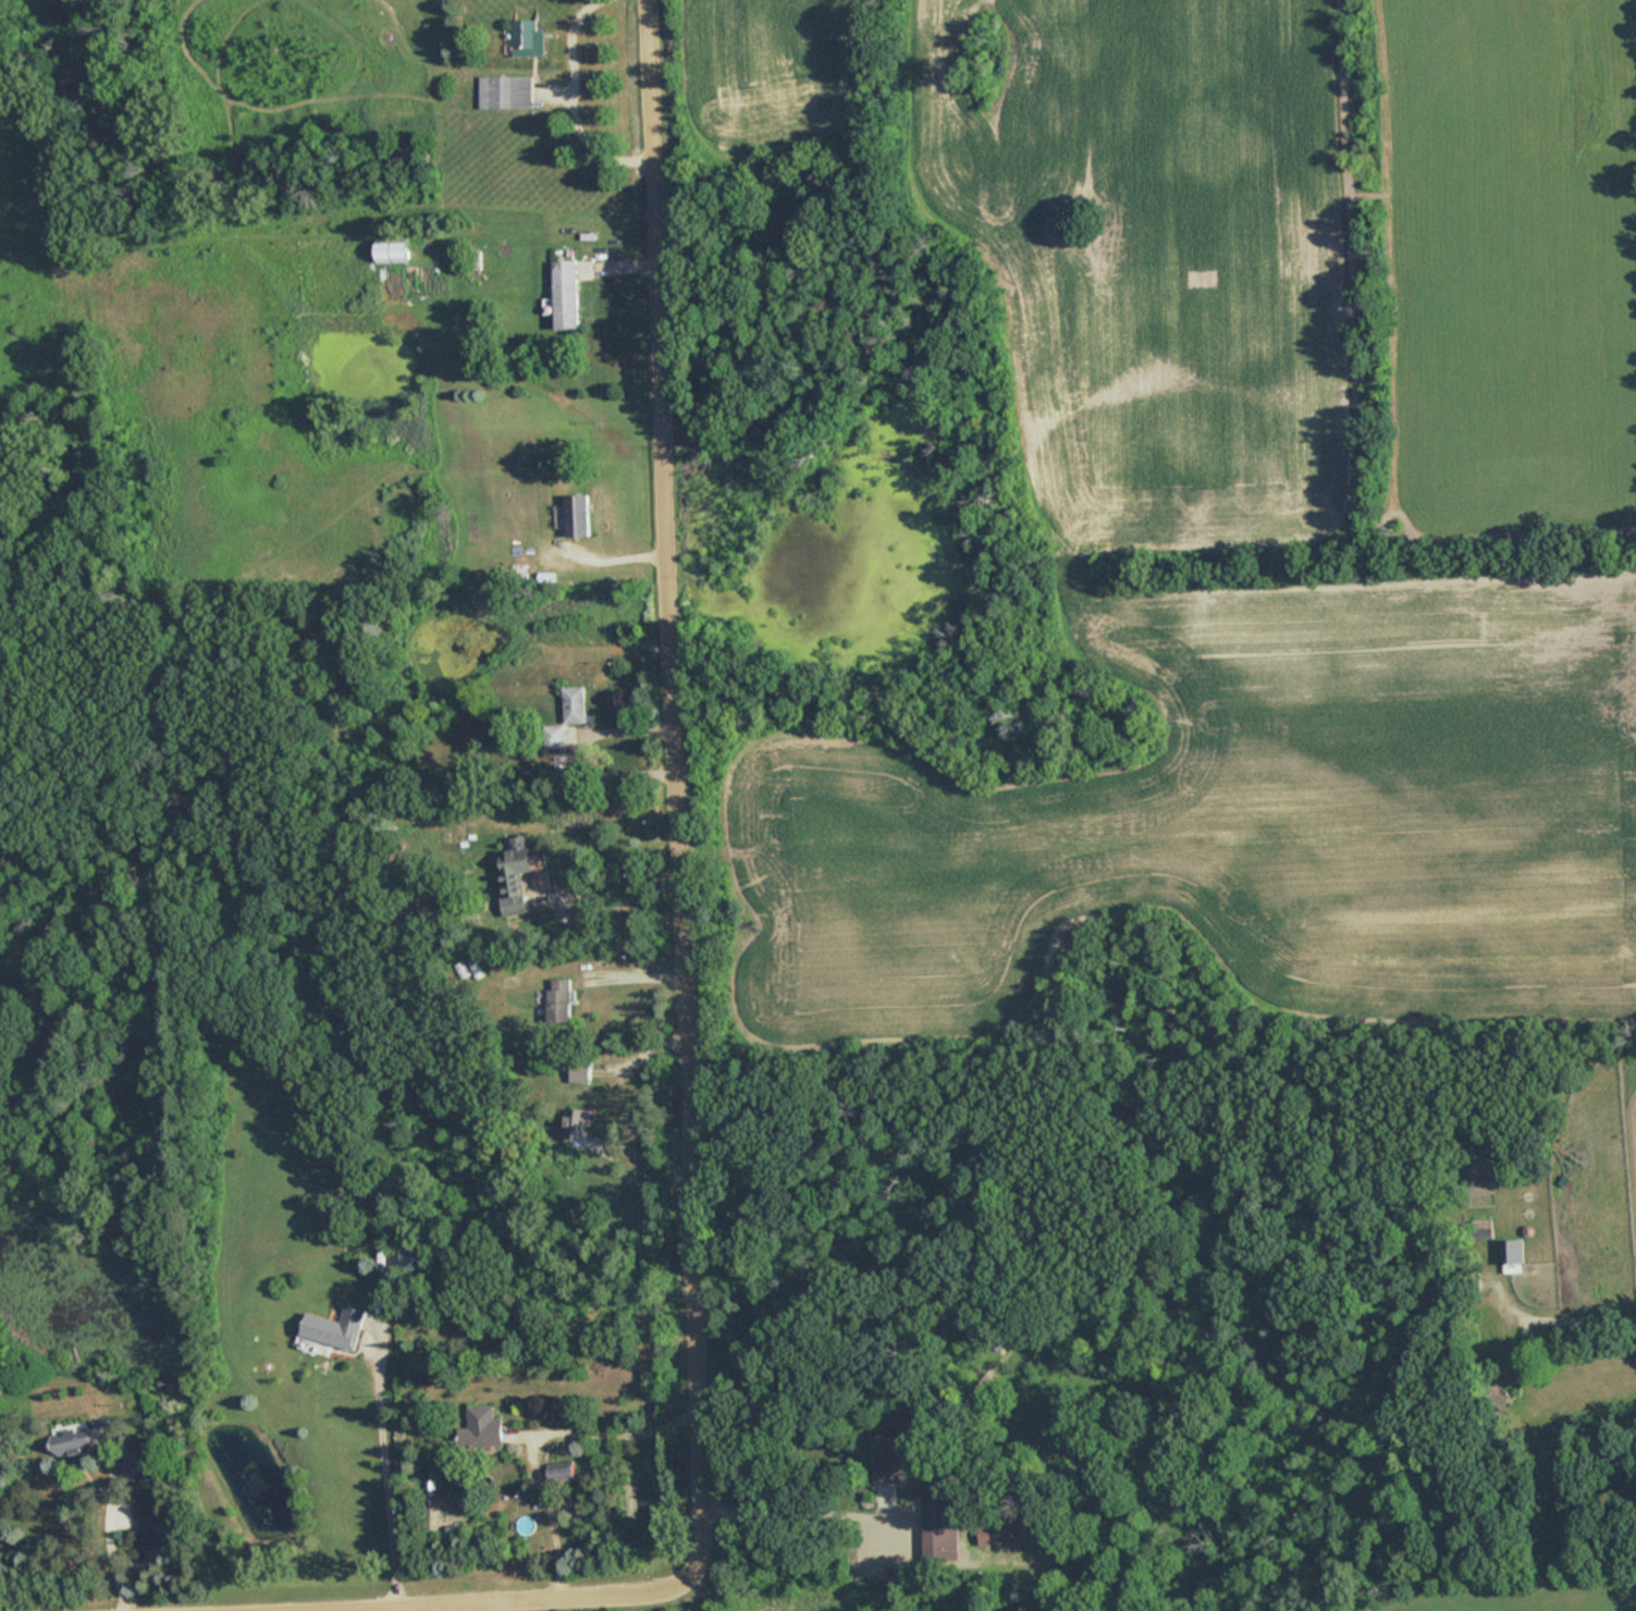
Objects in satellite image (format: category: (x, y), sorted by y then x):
building: (529, 39)
building: (505, 93)
road: (569, 106)
building: (391, 249)
building: (565, 294)
building: (578, 515)
building: (576, 704)
building: (557, 735)
building: (516, 870)
road: (624, 895)
road: (692, 1086)
building: (578, 1122)
building: (1513, 1255)
building: (416, 1257)
road: (1575, 1320)
building: (333, 1328)
building: (482, 1428)
road: (541, 1432)
building: (84, 1436)
building: (889, 1459)
building: (140, 1462)
road: (386, 1468)
building: (563, 1475)
road: (800, 1515)
building: (939, 1528)
road: (110, 1530)
building: (149, 1533)
building: (997, 1534)
road: (210, 1609)

